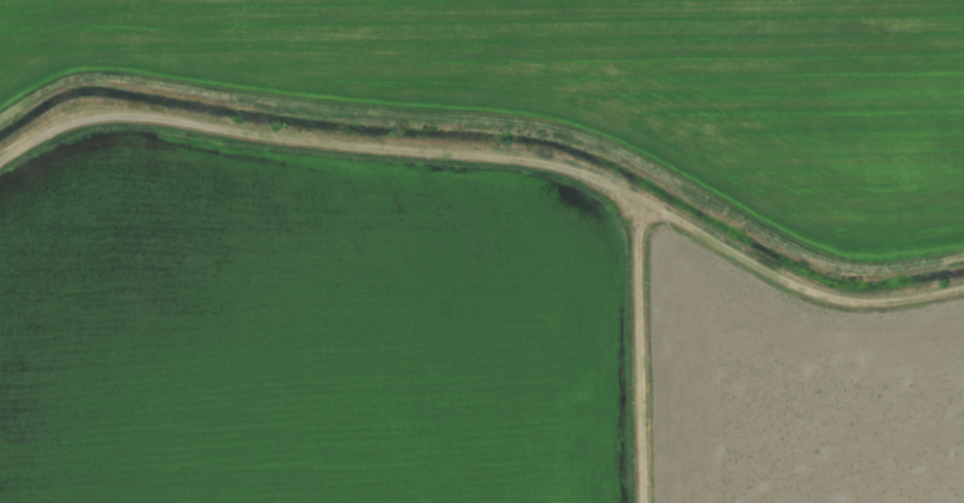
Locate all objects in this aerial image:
crop: (482, 251)

